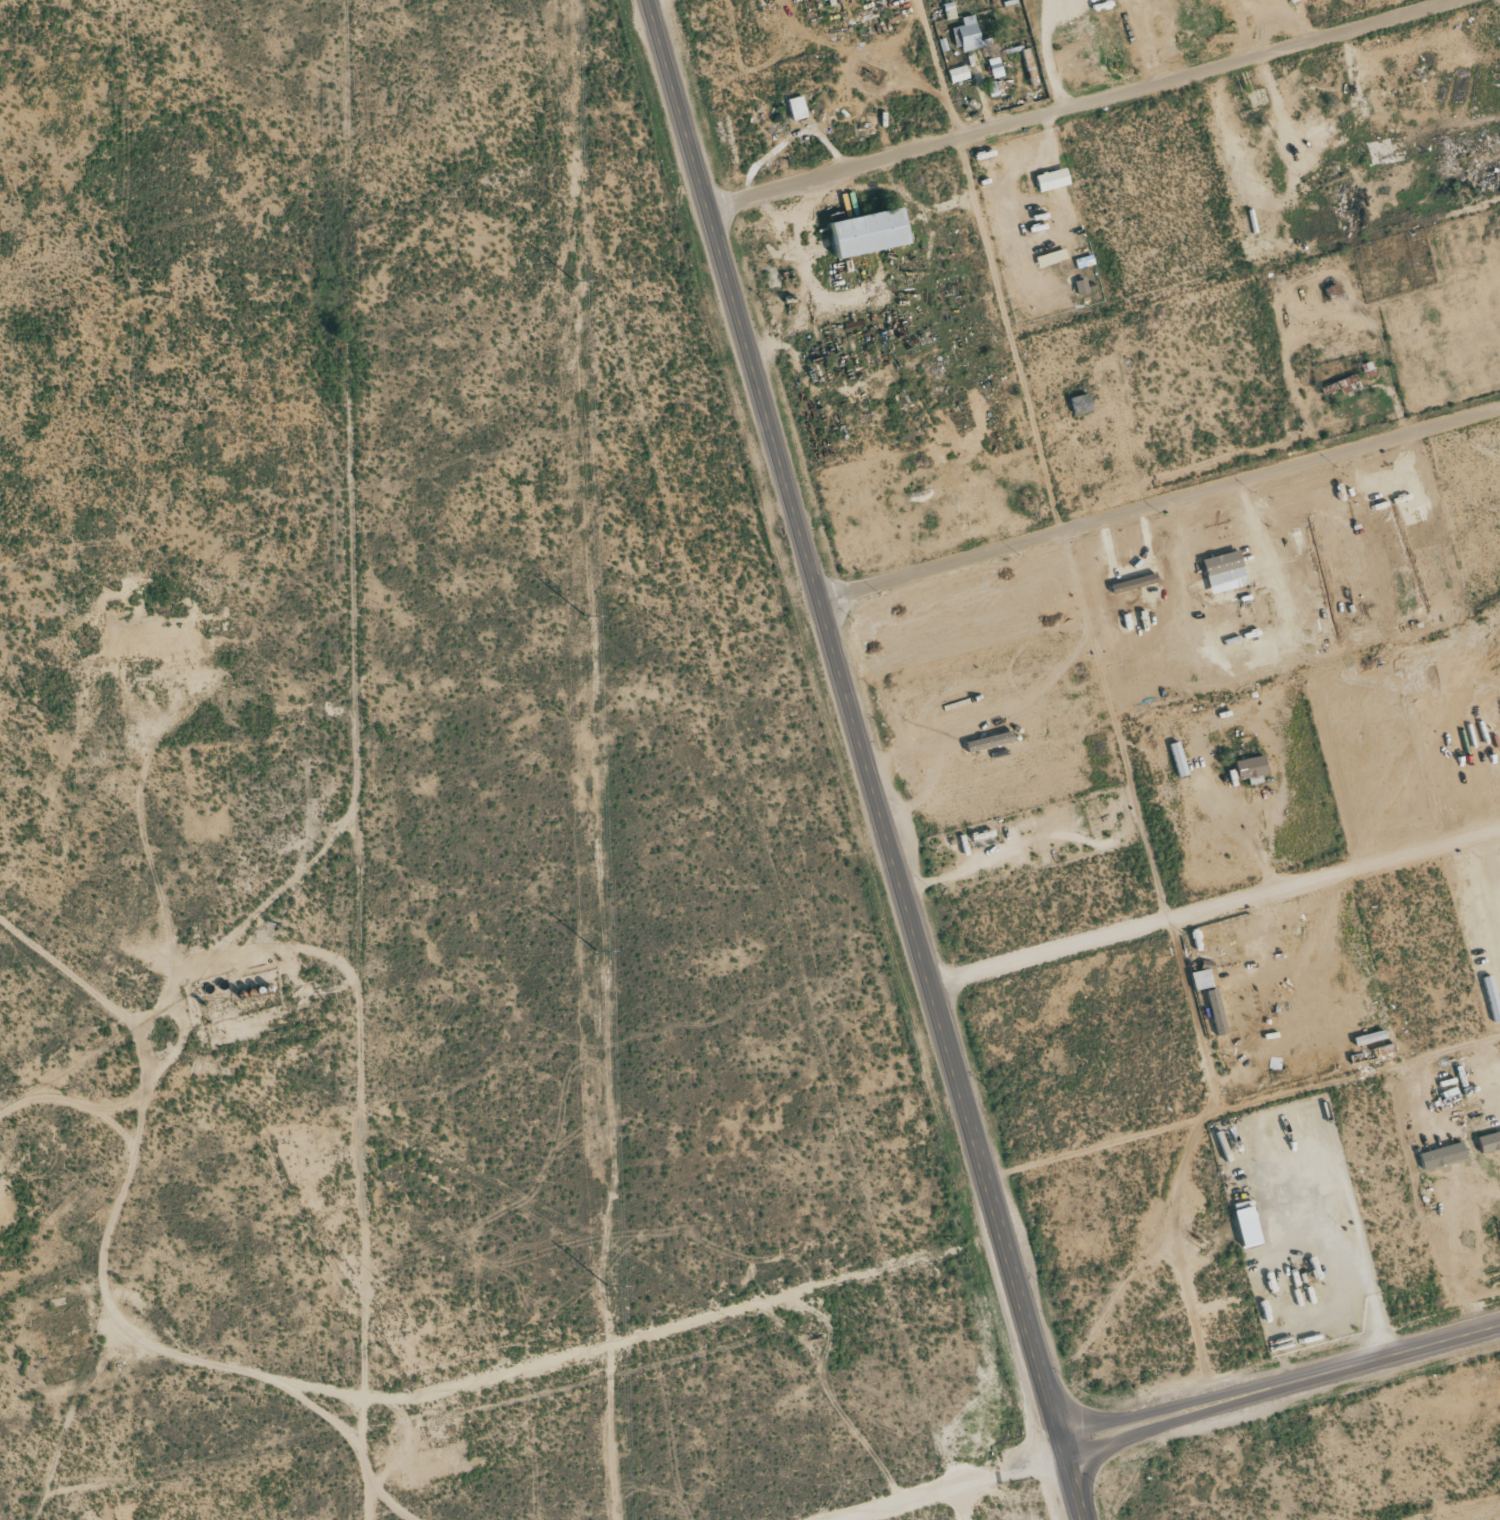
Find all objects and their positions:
road: (1247, 26)
building: (966, 34)
road: (1044, 53)
building: (995, 67)
building: (958, 73)
road: (1076, 101)
building: (796, 107)
building: (1050, 179)
building: (869, 231)
building: (1046, 259)
road: (991, 265)
power tower: (575, 279)
building: (1081, 287)
building: (1343, 385)
building: (1080, 403)
road: (1159, 505)
building: (1221, 562)
power tower: (586, 614)
building: (989, 741)
building: (1178, 759)
road: (866, 760)
building: (1251, 769)
road: (1279, 806)
road: (1214, 903)
power tower: (596, 948)
building: (1201, 979)
building: (1216, 1012)
road: (1482, 1056)
building: (1489, 1141)
building: (1442, 1155)
building: (1248, 1232)
power tower: (607, 1284)
road: (1281, 1386)
road: (934, 1481)

